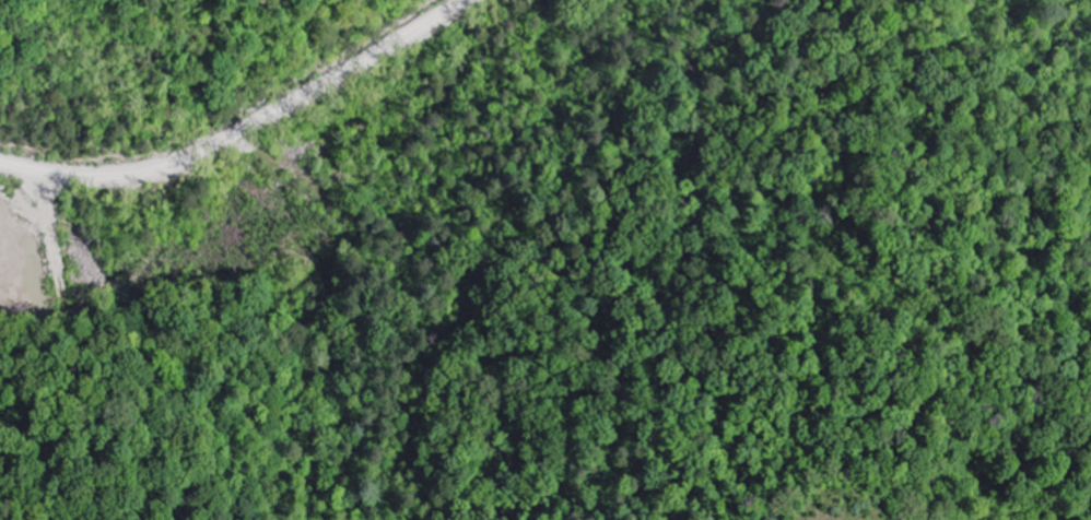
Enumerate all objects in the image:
road: (245, 129)

